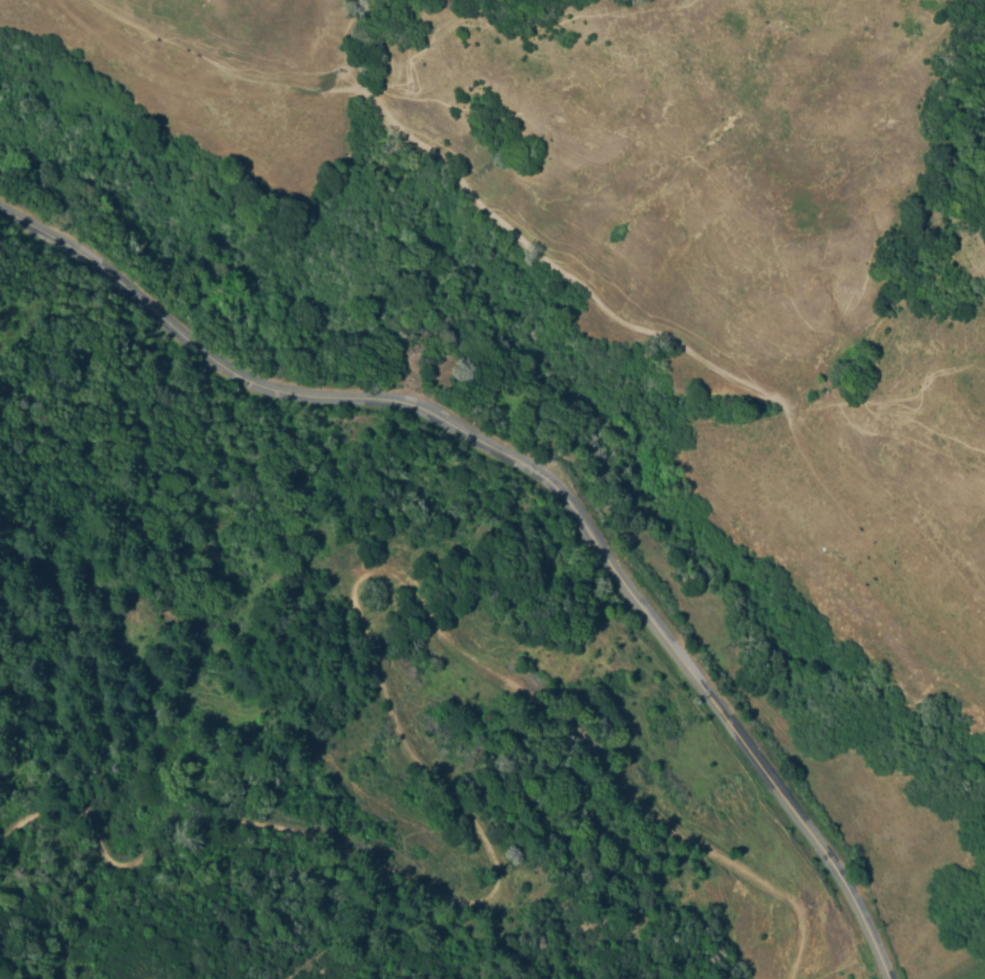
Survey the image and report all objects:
road: (539, 470)

